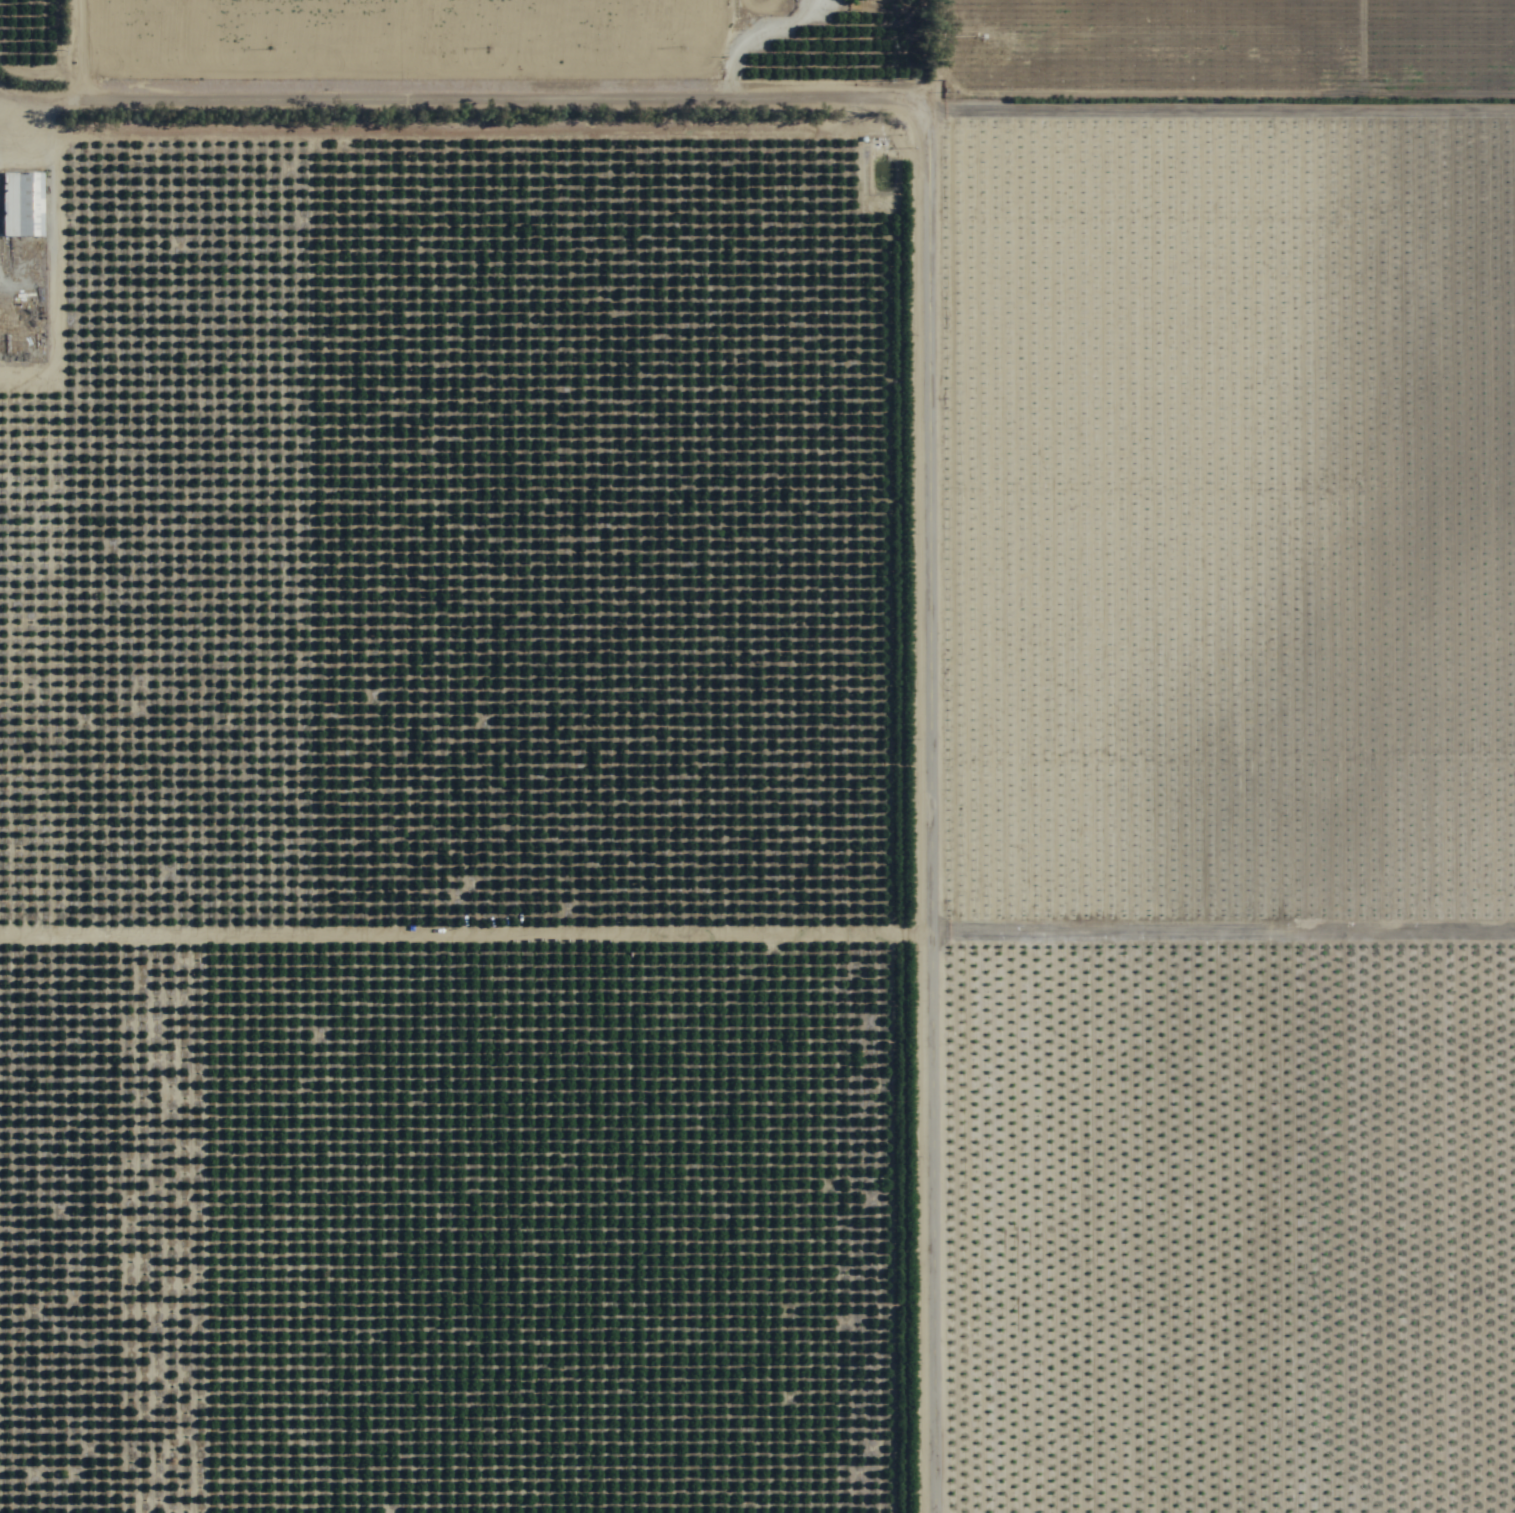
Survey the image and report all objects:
building: (869, 0)
road: (50, 36)
road: (465, 82)
road: (1221, 109)
building: (21, 205)
crop: (745, 774)
road: (930, 810)
road: (53, 911)

